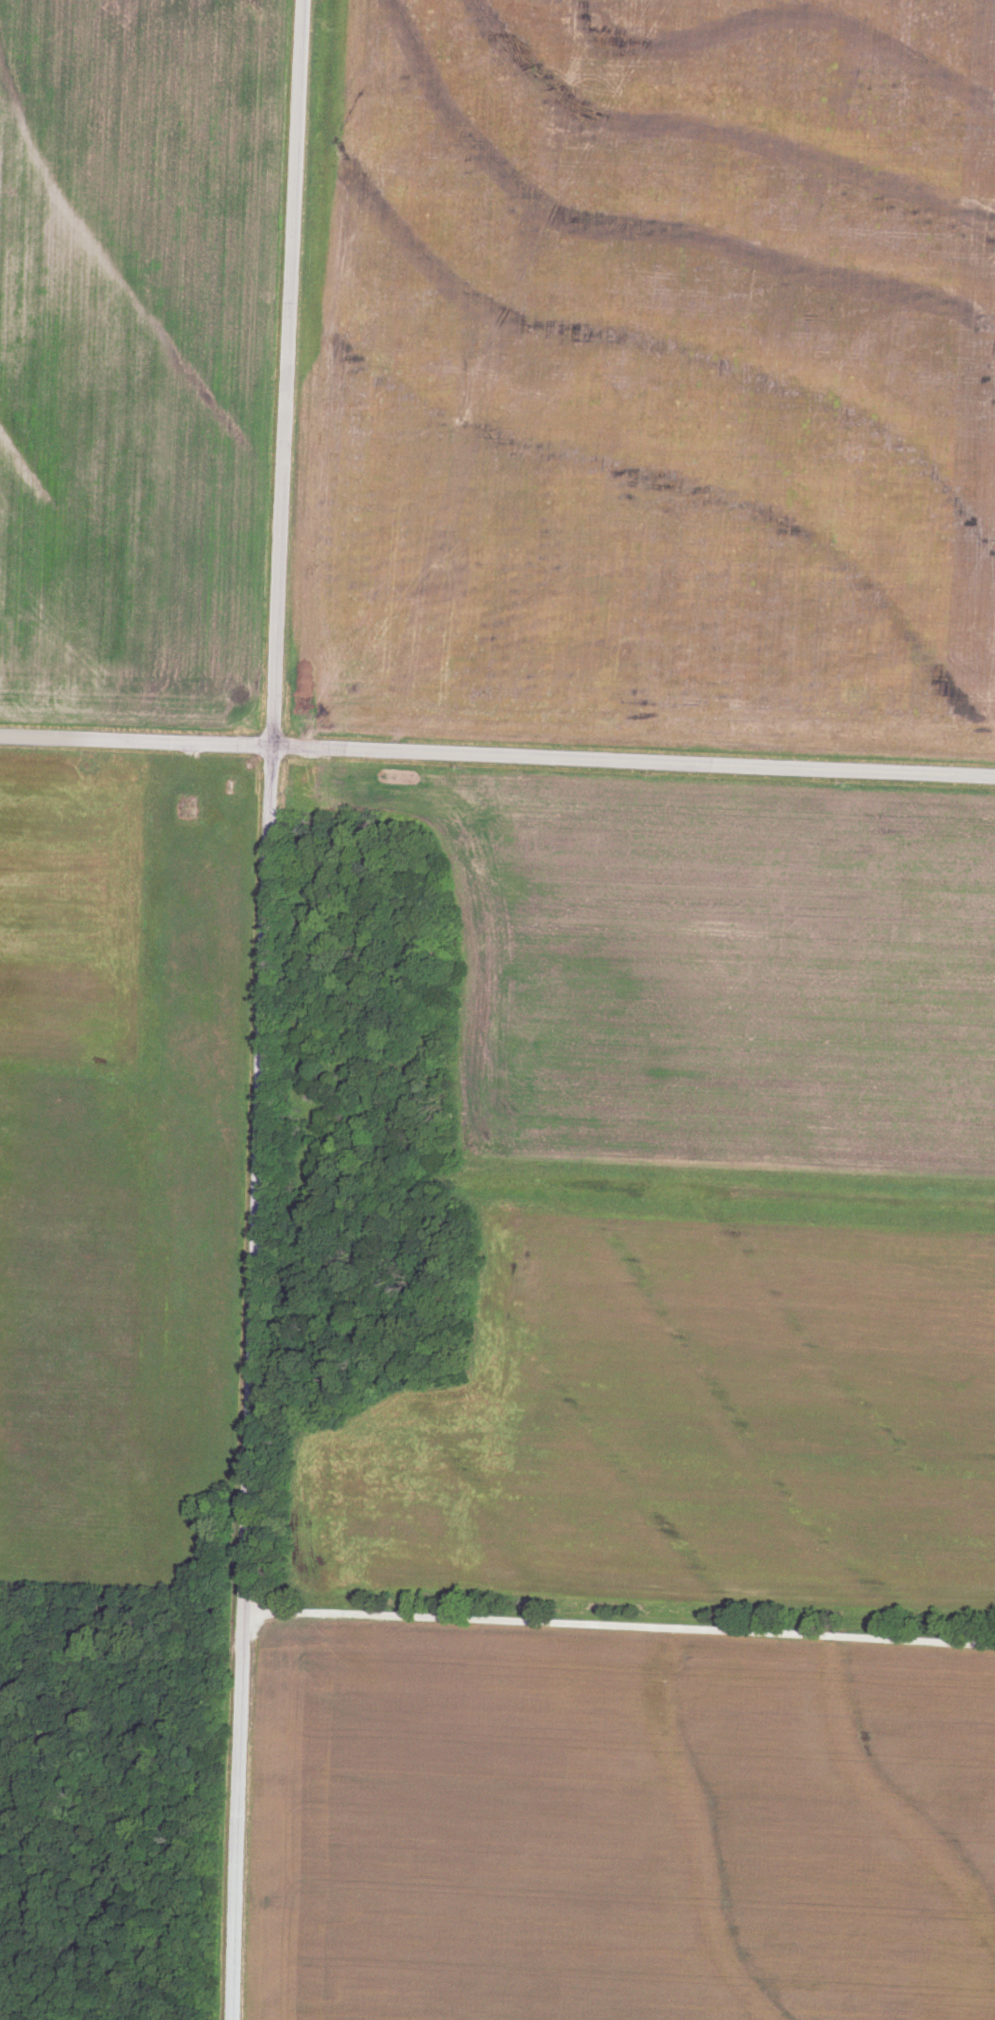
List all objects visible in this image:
road: (284, 373)
road: (497, 755)
road: (248, 1383)
road: (618, 1621)
road: (611, 1948)

